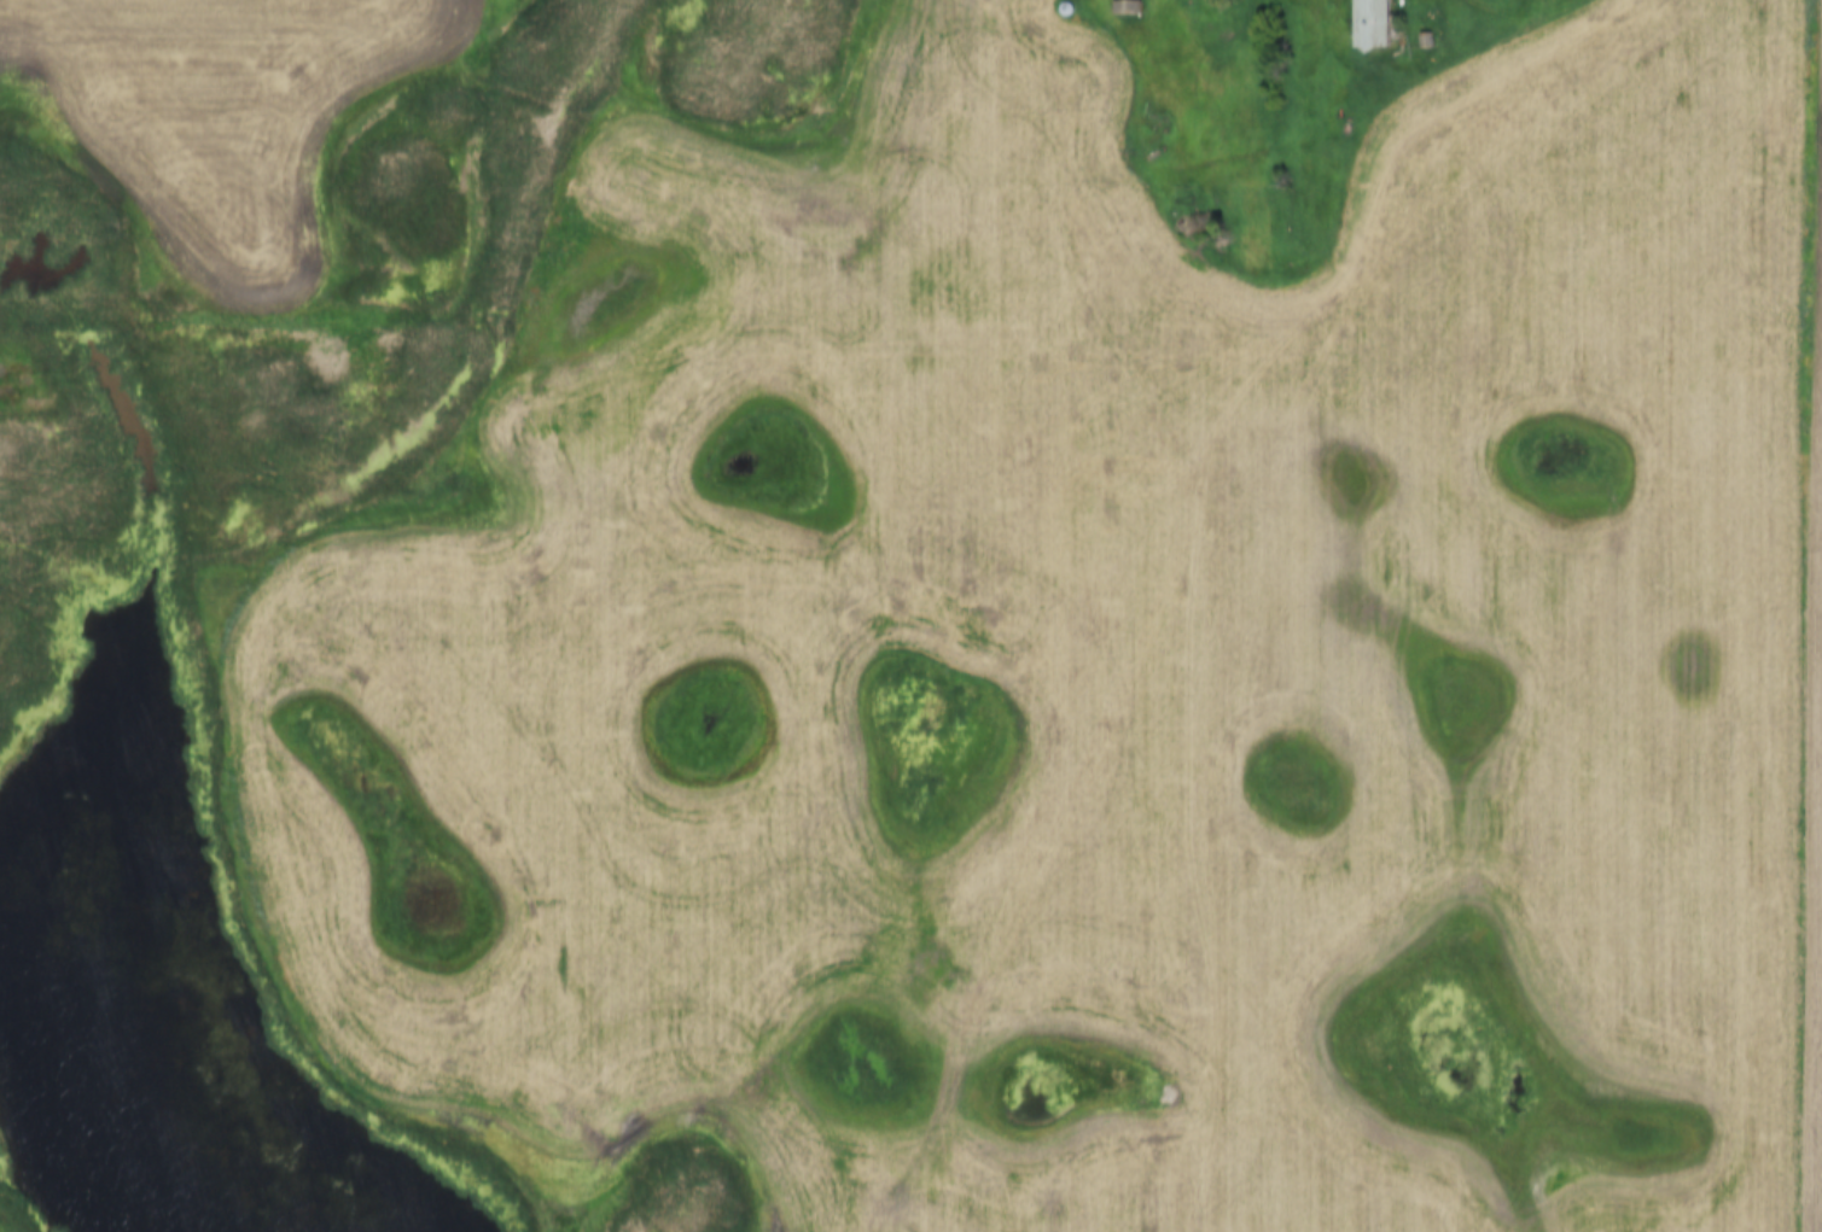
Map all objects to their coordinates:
building: (1124, 8)
building: (1373, 27)
building: (1422, 41)

